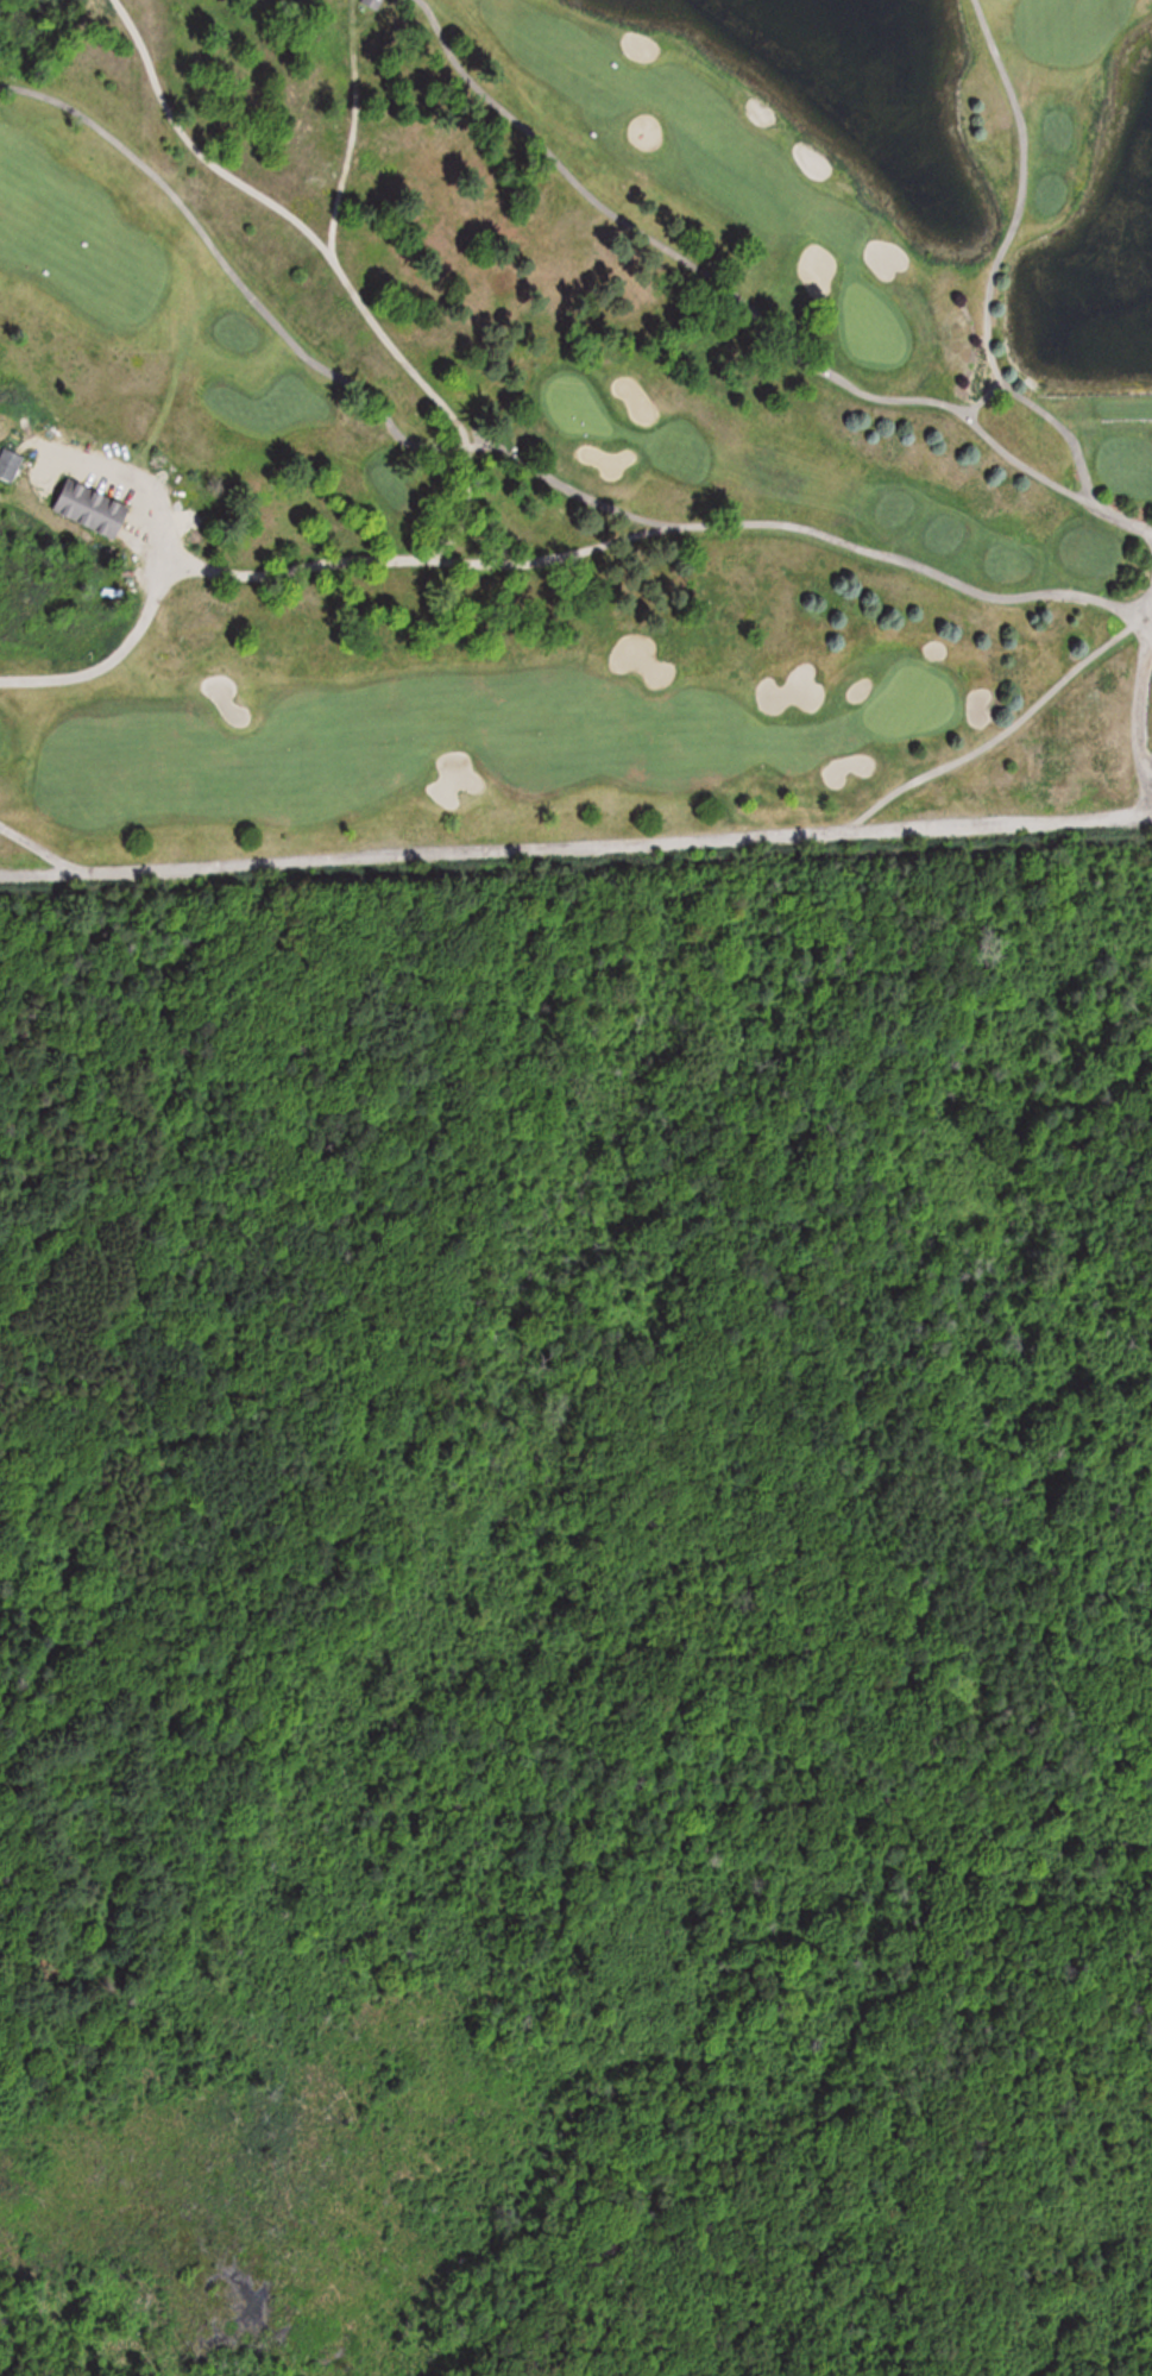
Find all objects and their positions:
building: (376, 7)
road: (351, 138)
road: (1001, 256)
road: (240, 282)
park: (870, 325)
road: (743, 326)
park: (569, 428)
building: (12, 465)
road: (533, 473)
building: (89, 505)
road: (413, 557)
road: (106, 660)
road: (1005, 731)
road: (575, 848)
road: (49, 855)
park: (579, 1616)

